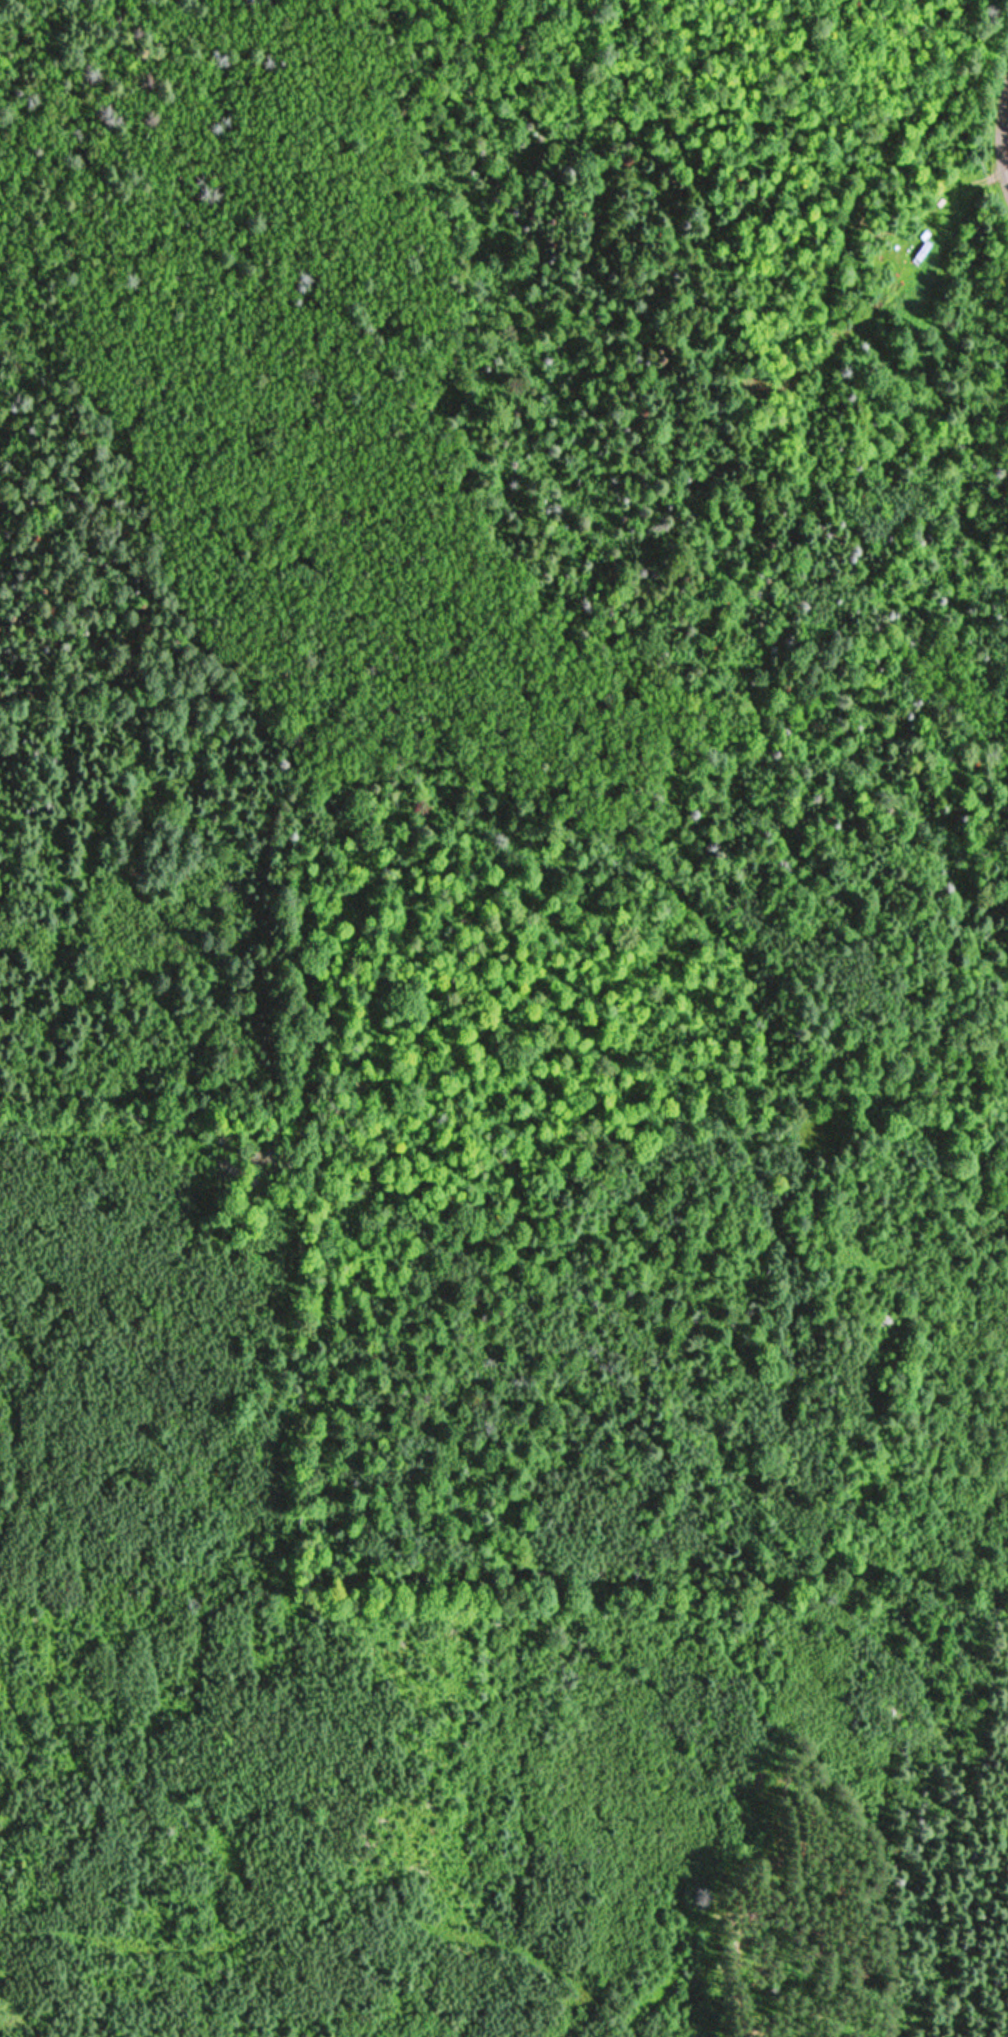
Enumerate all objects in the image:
road: (984, 115)

